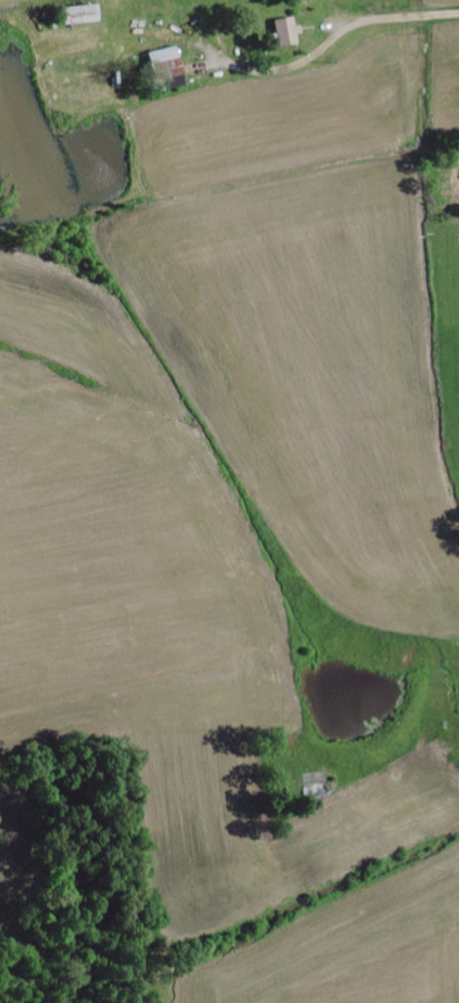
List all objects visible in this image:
building: (82, 15)
road: (397, 15)
building: (287, 33)
building: (169, 69)

